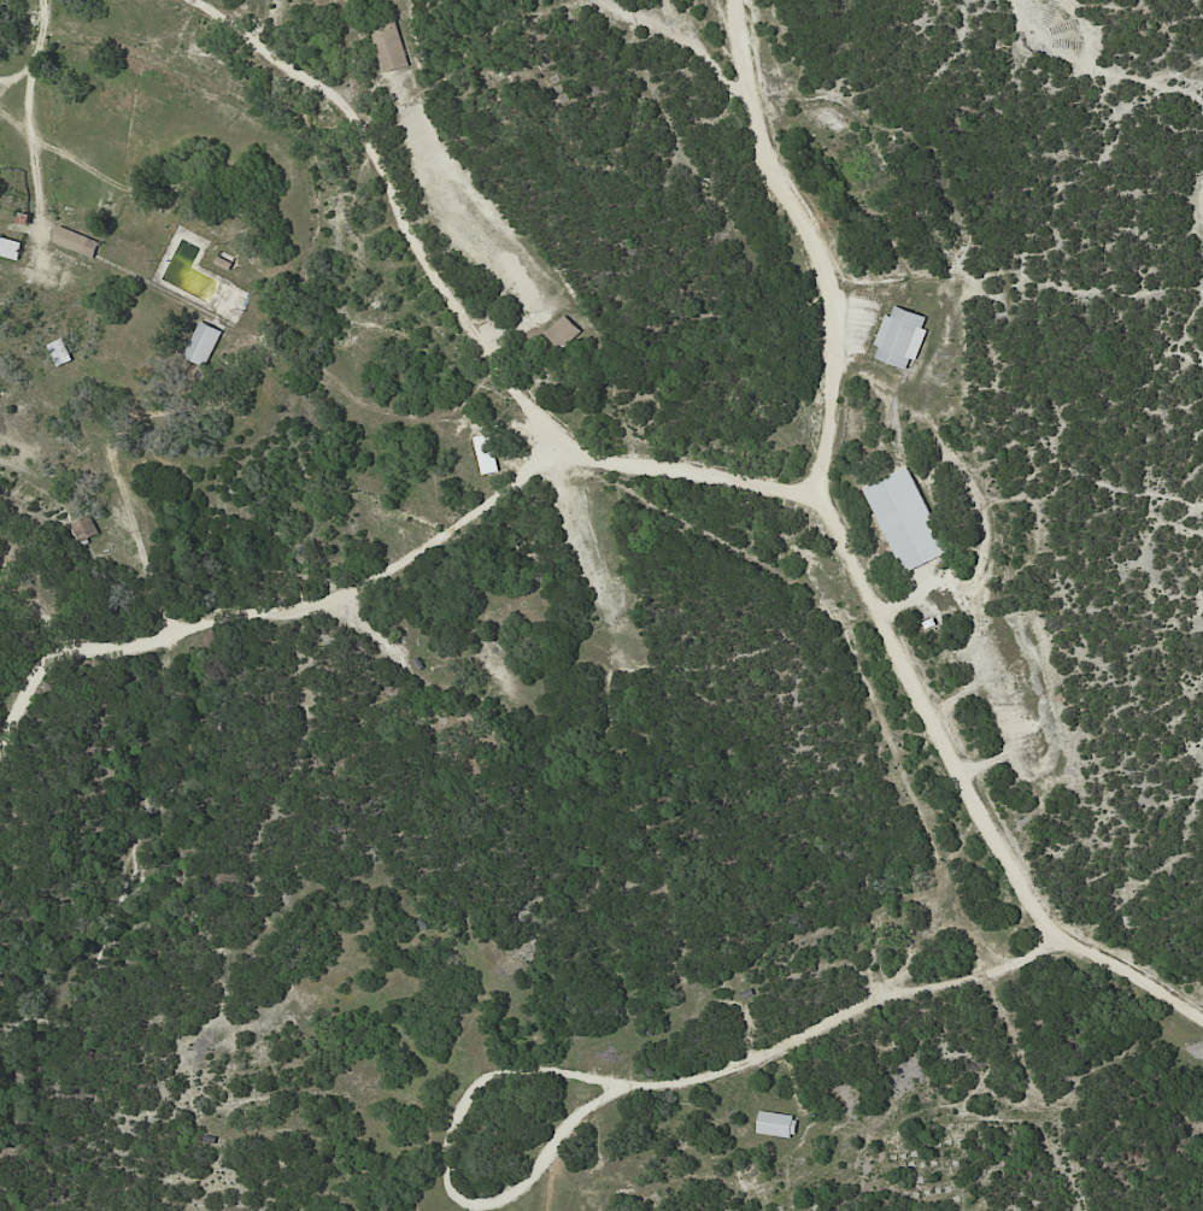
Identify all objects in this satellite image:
road: (19, 75)
road: (33, 125)
building: (75, 241)
building: (8, 247)
road: (460, 312)
building: (561, 331)
building: (899, 336)
building: (203, 343)
building: (486, 454)
building: (905, 518)
road: (850, 564)
road: (608, 1081)
building: (775, 1123)

